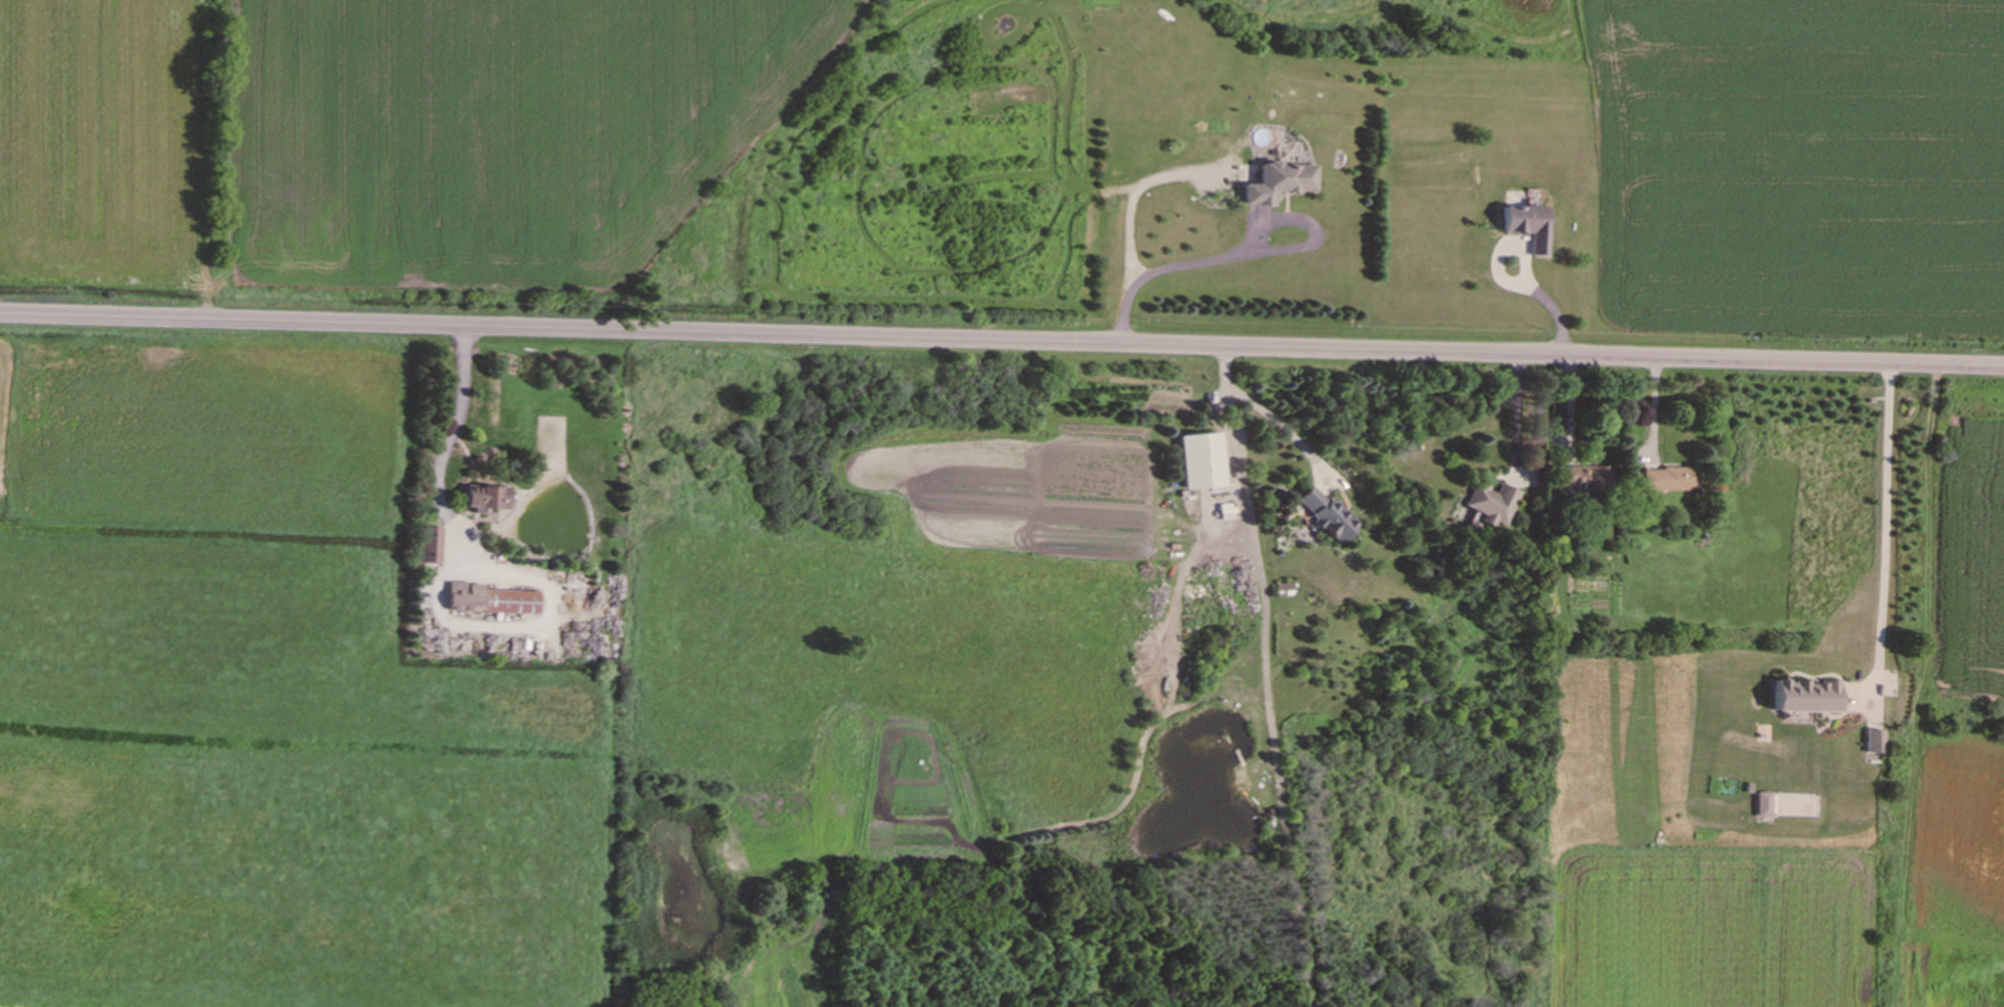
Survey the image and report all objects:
crop: (378, 133)
crop: (1801, 157)
building: (1277, 184)
building: (1523, 228)
road: (1173, 262)
road: (1554, 303)
road: (1001, 340)
road: (1269, 414)
road: (1570, 434)
road: (444, 455)
building: (1199, 463)
building: (1578, 479)
building: (1666, 481)
building: (481, 500)
building: (1489, 507)
building: (1325, 516)
road: (1886, 524)
building: (428, 548)
building: (492, 603)
crop: (1966, 609)
road: (1267, 693)

